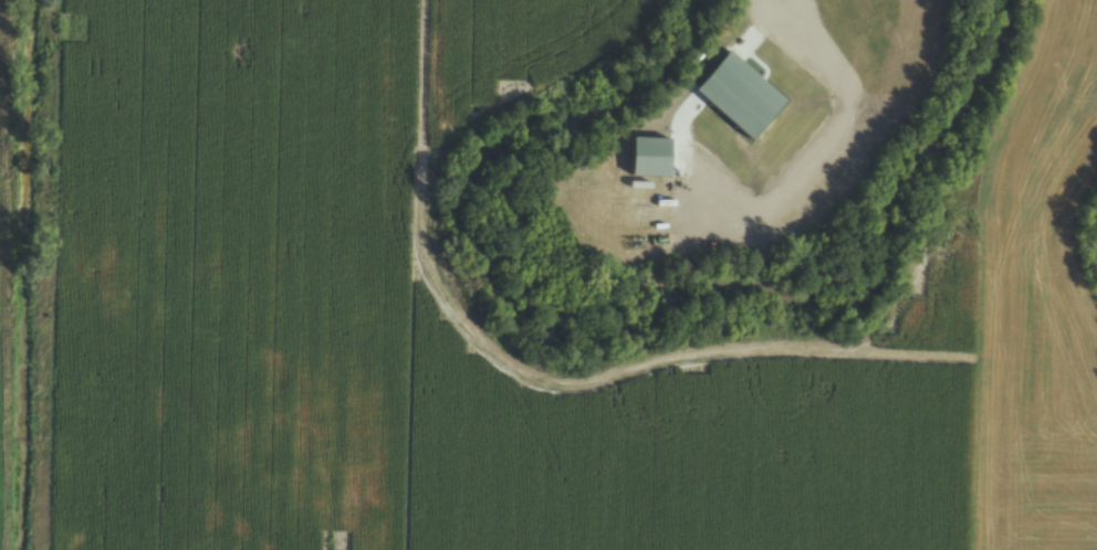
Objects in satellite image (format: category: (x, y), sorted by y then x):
crop: (396, 338)

